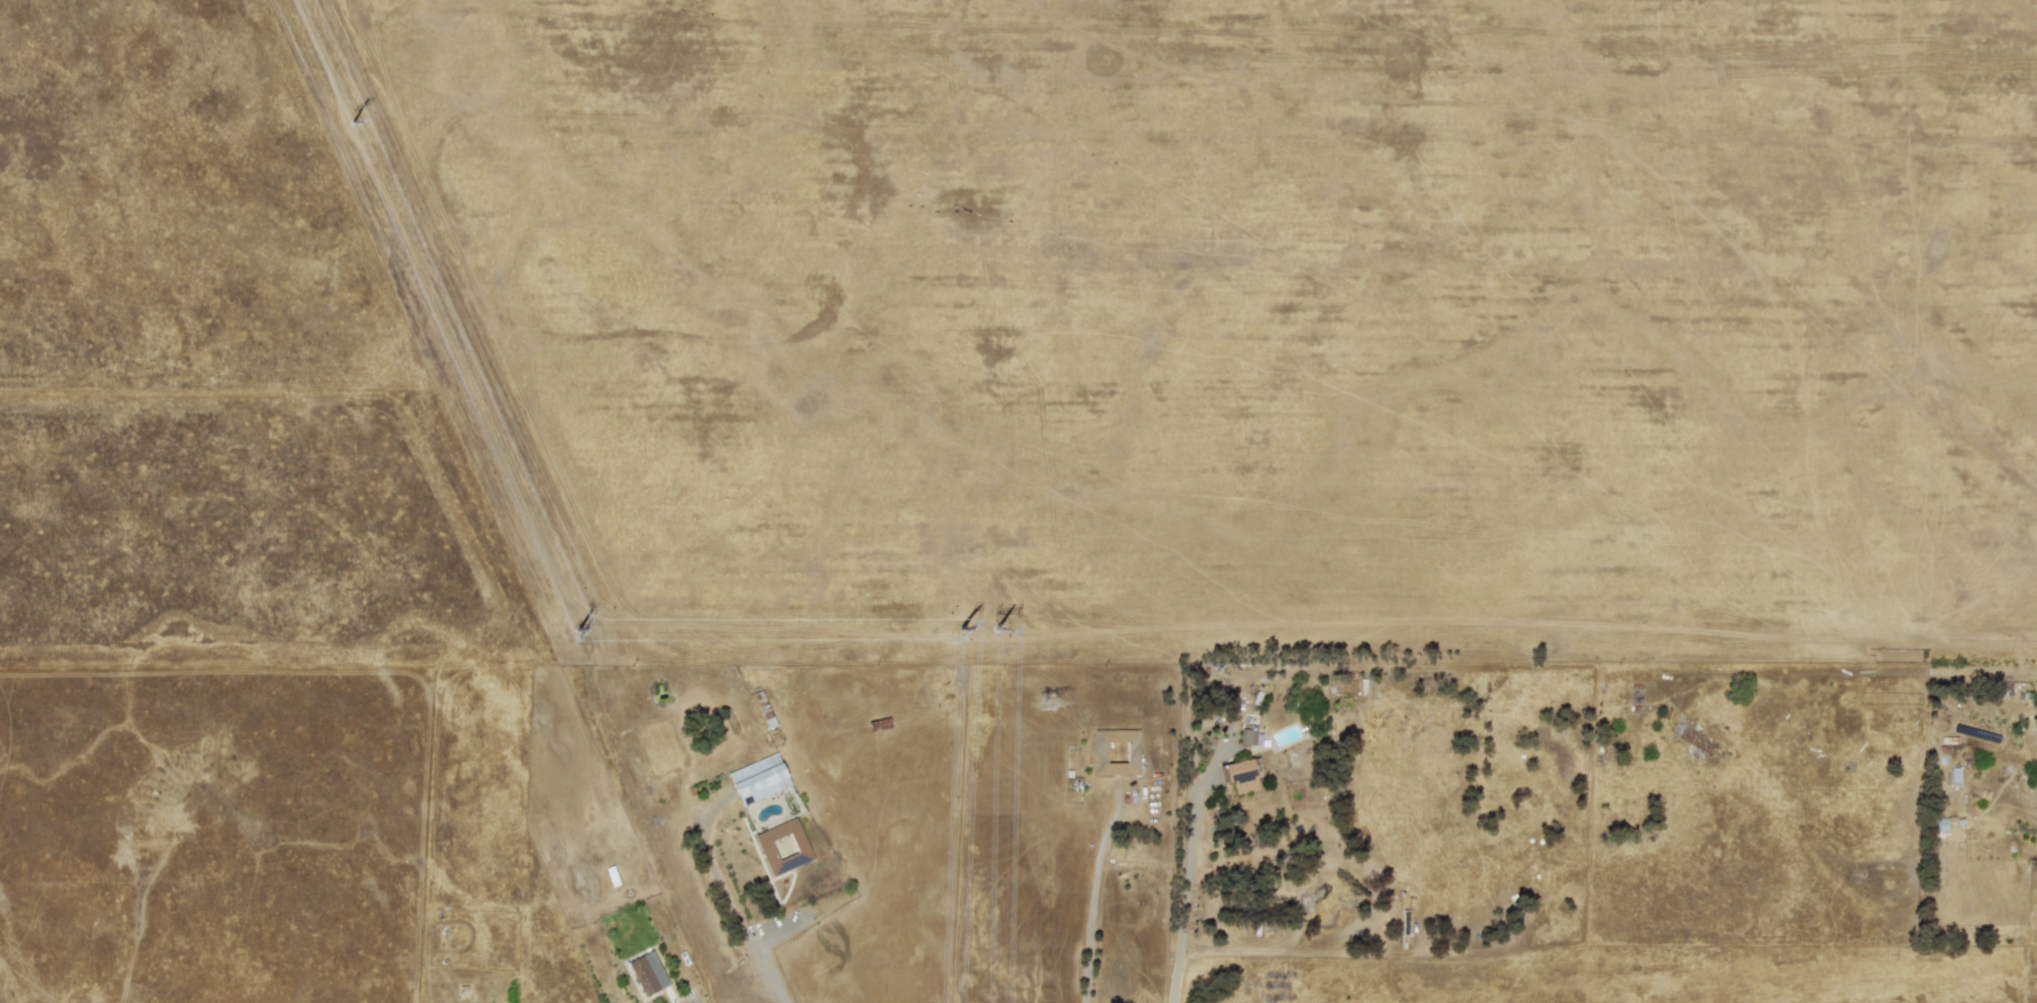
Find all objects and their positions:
road: (1952, 677)
power tower: (1046, 704)
road: (1220, 718)
building: (2034, 725)
building: (1248, 736)
building: (1115, 752)
building: (1238, 775)
building: (759, 779)
building: (783, 846)
road: (1094, 901)
road: (1186, 910)
road: (1304, 952)
road: (771, 969)
building: (642, 975)
road: (620, 1001)

